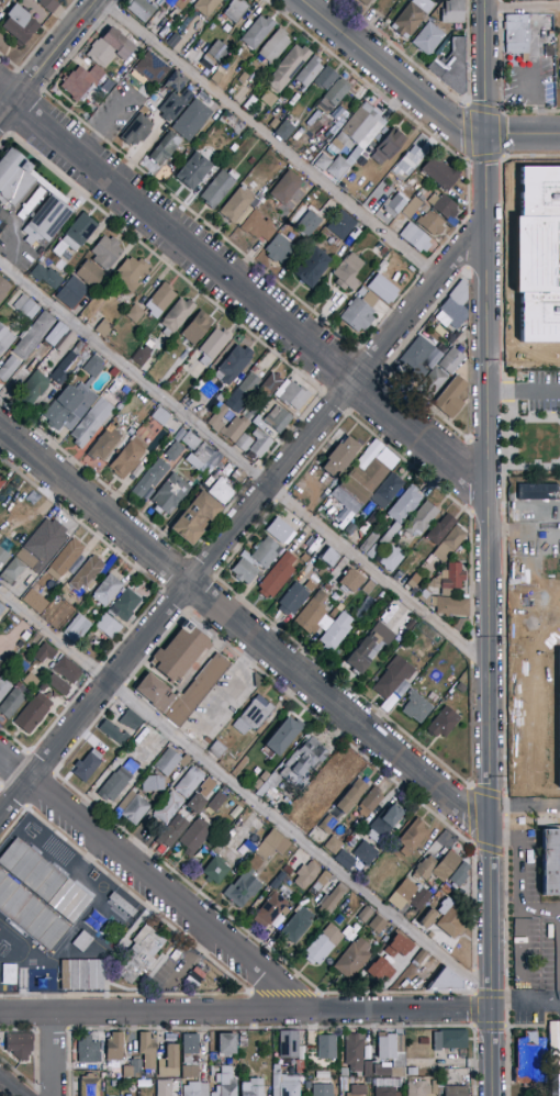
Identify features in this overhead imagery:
building: (367, 1)
building: (180, 3)
building: (48, 5)
building: (205, 7)
road: (522, 8)
building: (141, 9)
building: (235, 10)
building: (255, 10)
building: (452, 12)
building: (411, 16)
building: (19, 24)
building: (257, 33)
building: (518, 34)
building: (428, 38)
building: (172, 41)
building: (110, 47)
building: (273, 47)
road: (401, 53)
building: (213, 58)
road: (48, 59)
building: (451, 65)
building: (289, 67)
building: (150, 68)
building: (310, 72)
building: (216, 77)
building: (243, 78)
building: (325, 79)
building: (81, 81)
building: (176, 81)
road: (366, 81)
building: (549, 94)
building: (333, 96)
road: (419, 97)
building: (268, 99)
building: (249, 103)
building: (175, 105)
road: (530, 111)
road: (496, 112)
building: (191, 120)
building: (233, 123)
building: (136, 131)
building: (283, 131)
traffic signals: (485, 134)
building: (356, 138)
road: (266, 141)
building: (388, 146)
building: (165, 148)
building: (408, 161)
building: (323, 163)
building: (193, 171)
building: (440, 172)
building: (376, 179)
building: (285, 188)
building: (219, 189)
building: (10, 198)
building: (236, 204)
building: (394, 205)
building: (443, 205)
building: (414, 209)
building: (307, 223)
building: (430, 224)
building: (340, 225)
building: (257, 227)
building: (75, 235)
building: (416, 241)
building: (279, 249)
building: (107, 253)
building: (312, 267)
building: (348, 272)
building: (89, 273)
building: (131, 273)
building: (46, 277)
building: (4, 289)
road: (243, 289)
building: (382, 289)
building: (71, 292)
building: (160, 300)
building: (26, 307)
building: (453, 307)
building: (359, 311)
building: (135, 314)
building: (177, 315)
building: (197, 327)
building: (103, 328)
building: (55, 335)
building: (33, 336)
building: (4, 339)
building: (66, 343)
building: (213, 345)
building: (142, 354)
building: (416, 358)
building: (451, 361)
building: (234, 365)
building: (93, 367)
building: (66, 368)
building: (9, 369)
building: (113, 371)
building: (433, 383)
building: (270, 384)
building: (33, 387)
road: (524, 391)
building: (243, 392)
building: (292, 394)
building: (450, 398)
building: (69, 406)
building: (160, 416)
building: (217, 420)
building: (273, 422)
building: (91, 423)
building: (235, 428)
building: (131, 432)
building: (191, 441)
building: (105, 443)
building: (244, 443)
building: (260, 444)
building: (173, 451)
building: (340, 456)
building: (127, 458)
building: (204, 459)
road: (244, 465)
building: (142, 466)
building: (238, 476)
building: (150, 478)
building: (363, 481)
building: (1, 482)
building: (221, 491)
building: (387, 491)
building: (147, 494)
building: (171, 494)
building: (335, 499)
building: (401, 512)
building: (195, 518)
building: (422, 518)
road: (239, 522)
building: (349, 528)
building: (440, 529)
building: (280, 530)
building: (449, 545)
building: (43, 546)
building: (371, 546)
road: (488, 548)
building: (267, 553)
building: (3, 557)
building: (329, 557)
building: (65, 559)
building: (392, 559)
building: (244, 569)
building: (12, 572)
building: (87, 574)
building: (272, 580)
building: (448, 580)
building: (414, 581)
building: (350, 582)
building: (369, 588)
building: (105, 591)
road: (504, 597)
building: (292, 600)
building: (36, 601)
building: (445, 604)
building: (124, 606)
building: (1, 608)
building: (312, 614)
building: (460, 624)
building: (109, 626)
building: (77, 628)
road: (243, 629)
building: (336, 631)
building: (369, 648)
building: (176, 651)
building: (44, 653)
building: (34, 667)
building: (67, 670)
building: (393, 678)
building: (31, 681)
building: (257, 681)
building: (57, 684)
building: (4, 687)
building: (460, 687)
building: (147, 689)
building: (192, 690)
building: (12, 703)
parking lot: (219, 704)
building: (416, 707)
building: (33, 713)
building: (254, 715)
building: (131, 720)
building: (443, 723)
building: (112, 732)
building: (280, 735)
building: (141, 741)
building: (216, 749)
building: (302, 760)
building: (168, 762)
building: (87, 765)
building: (190, 782)
building: (114, 784)
building: (154, 784)
building: (325, 785)
road: (244, 792)
building: (202, 794)
building: (350, 796)
building: (125, 801)
building: (216, 802)
building: (369, 802)
road: (499, 804)
building: (169, 807)
building: (136, 810)
road: (472, 815)
building: (327, 825)
building: (382, 825)
building: (172, 830)
building: (195, 835)
building: (413, 836)
building: (272, 845)
building: (333, 846)
building: (365, 852)
building: (344, 860)
building: (545, 861)
building: (437, 866)
building: (32, 869)
building: (216, 870)
building: (288, 870)
building: (306, 875)
building: (459, 875)
road: (152, 881)
building: (279, 881)
building: (321, 883)
building: (240, 890)
building: (408, 896)
building: (331, 901)
road: (522, 904)
road: (474, 907)
building: (124, 909)
building: (268, 910)
building: (30, 915)
building: (365, 915)
road: (541, 915)
building: (427, 918)
building: (449, 918)
building: (296, 925)
building: (377, 925)
building: (82, 941)
building: (323, 944)
building: (397, 946)
parking lot: (536, 949)
building: (147, 954)
building: (352, 959)
building: (421, 959)
building: (379, 970)
building: (9, 975)
building: (82, 975)
road: (474, 978)
building: (445, 982)
road: (474, 992)
road: (525, 999)
road: (474, 1010)
road: (246, 1014)
building: (449, 1039)
building: (226, 1044)
building: (289, 1044)
building: (20, 1045)
building: (114, 1047)
building: (326, 1047)
building: (190, 1048)
building: (88, 1049)
building: (392, 1049)
building: (147, 1052)
building: (354, 1053)
road: (55, 1054)
road: (474, 1061)
building: (169, 1062)
building: (530, 1062)
building: (300, 1066)
building: (132, 1069)
building: (389, 1072)
building: (412, 1072)
building: (445, 1073)
building: (193, 1082)
building: (226, 1083)
building: (284, 1083)
building: (116, 1084)
building: (142, 1085)
road: (11, 1086)
building: (89, 1086)
building: (169, 1087)
building: (253, 1087)
building: (387, 1087)
building: (435, 1087)
building: (322, 1088)
building: (417, 1088)
building: (357, 1091)
building: (455, 1091)
building: (111, 1095)

